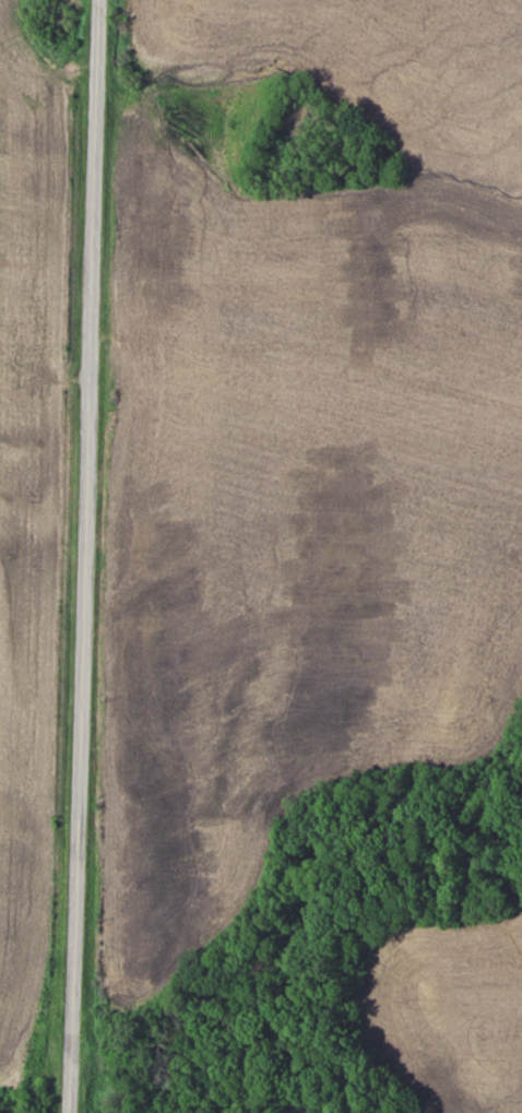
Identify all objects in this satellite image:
road: (100, 556)

